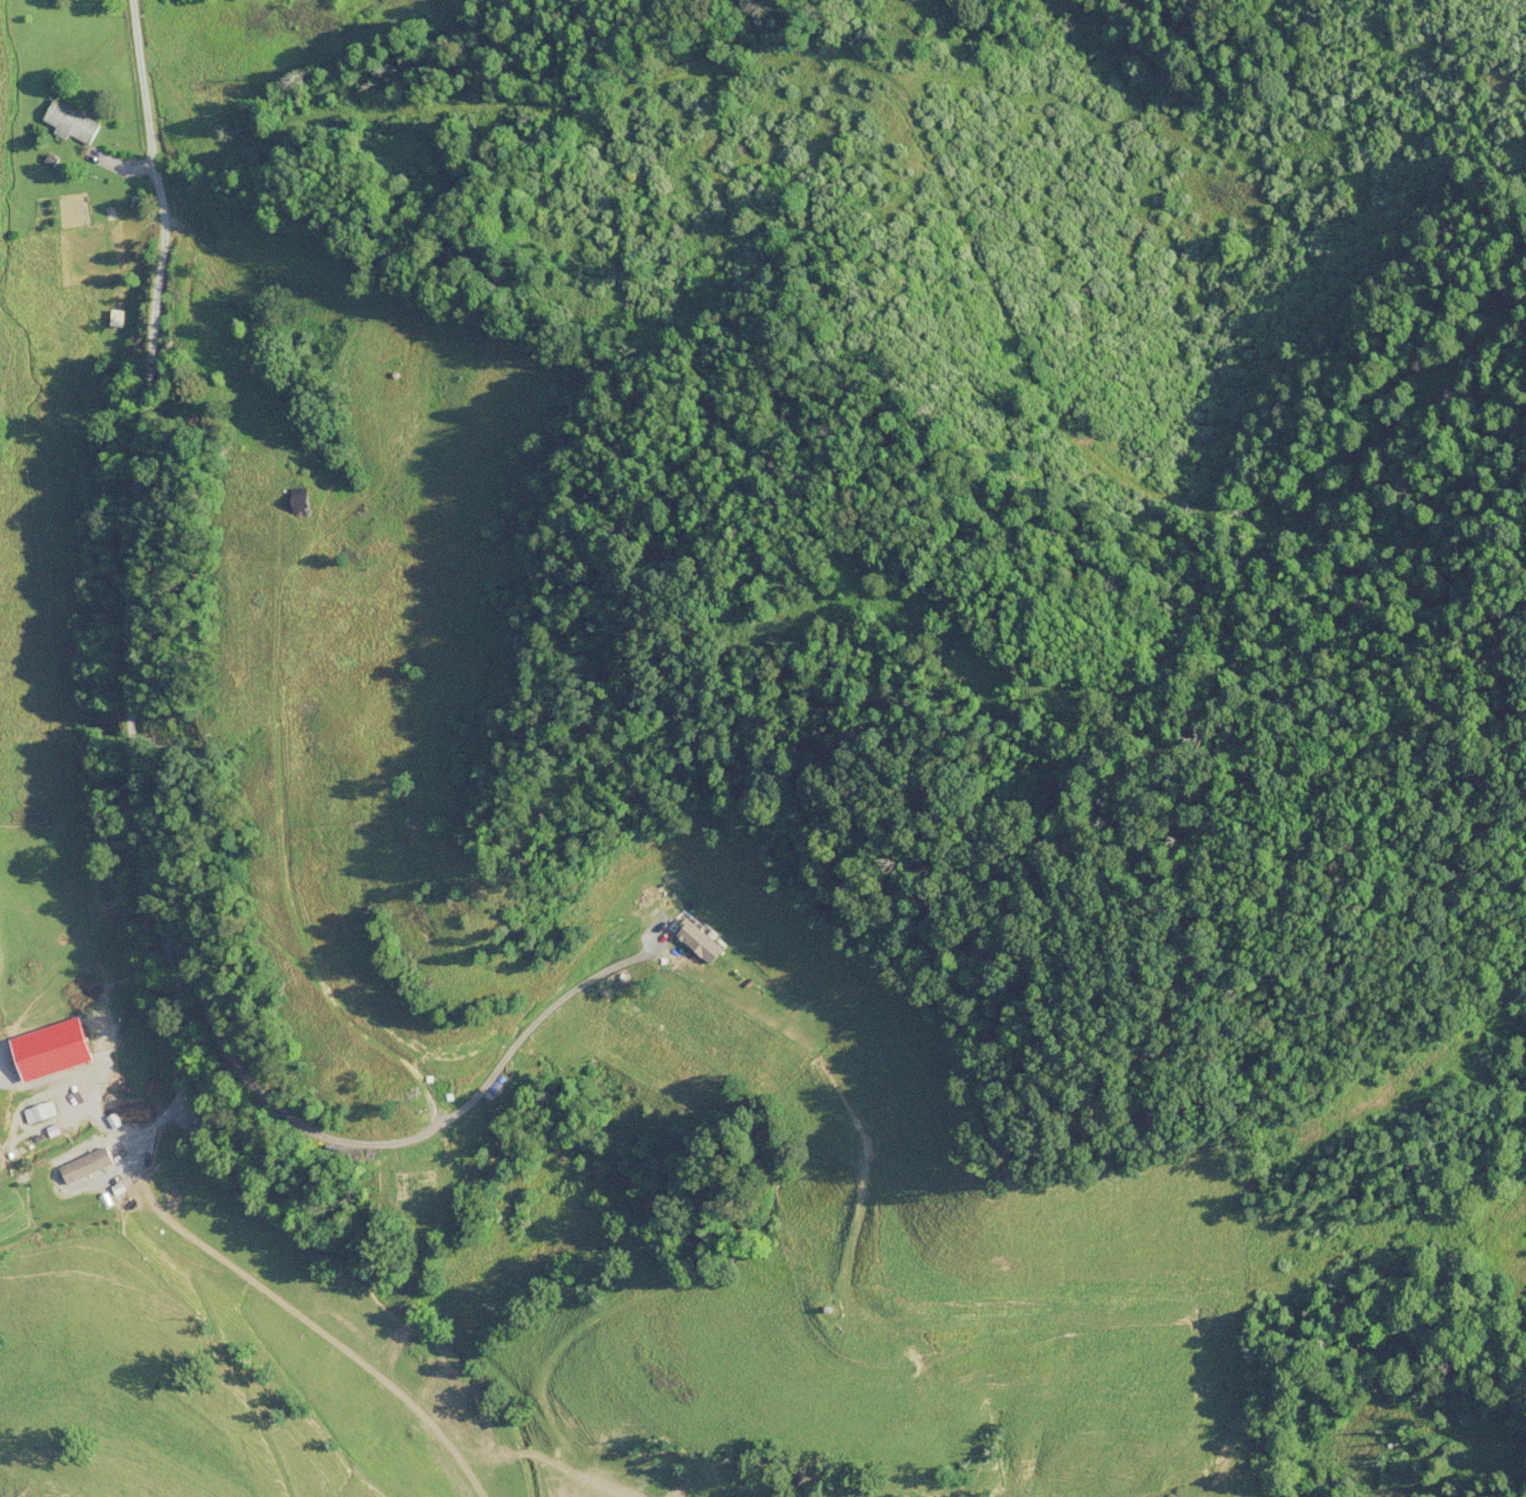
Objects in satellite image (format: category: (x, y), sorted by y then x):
road: (648, 86)
building: (71, 124)
road: (102, 621)
building: (29, 1064)
building: (41, 1112)
building: (0, 1144)
building: (101, 1164)

